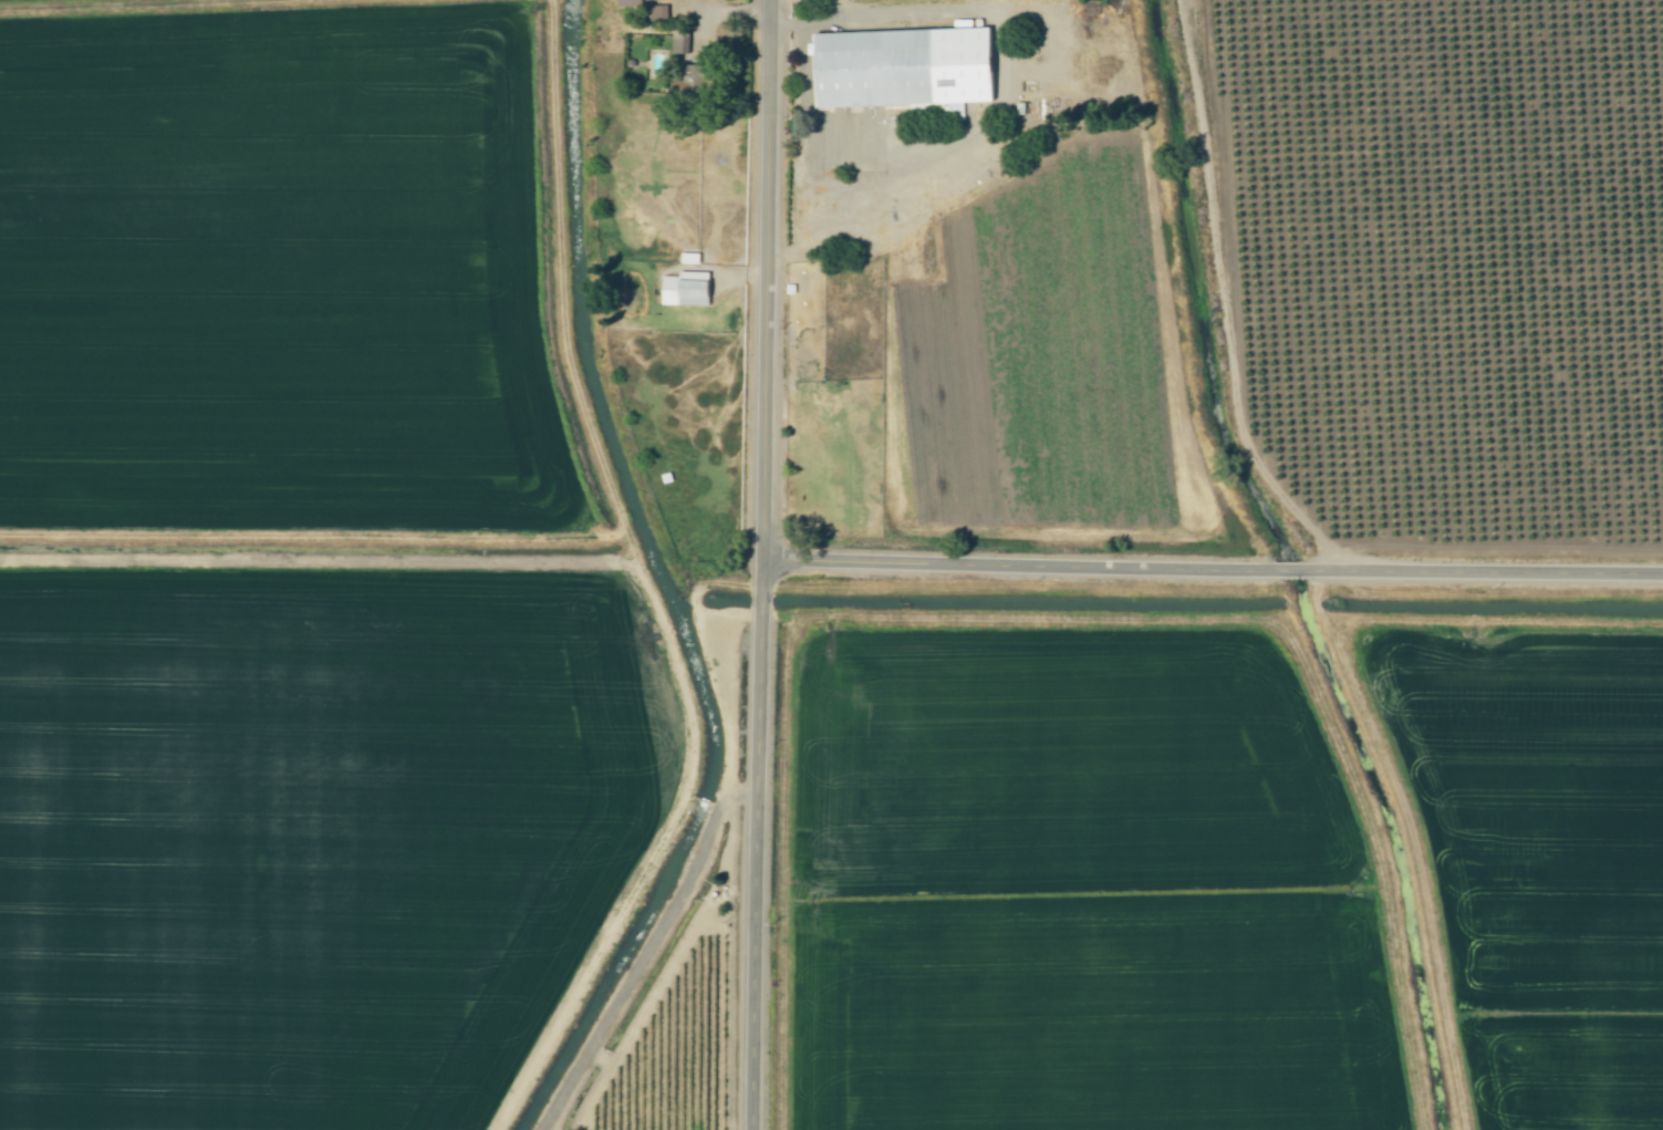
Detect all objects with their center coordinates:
building: (631, 3)
building: (659, 13)
building: (906, 68)
building: (688, 289)
road: (772, 564)
road: (1217, 572)
crop: (1535, 856)
road: (647, 947)

